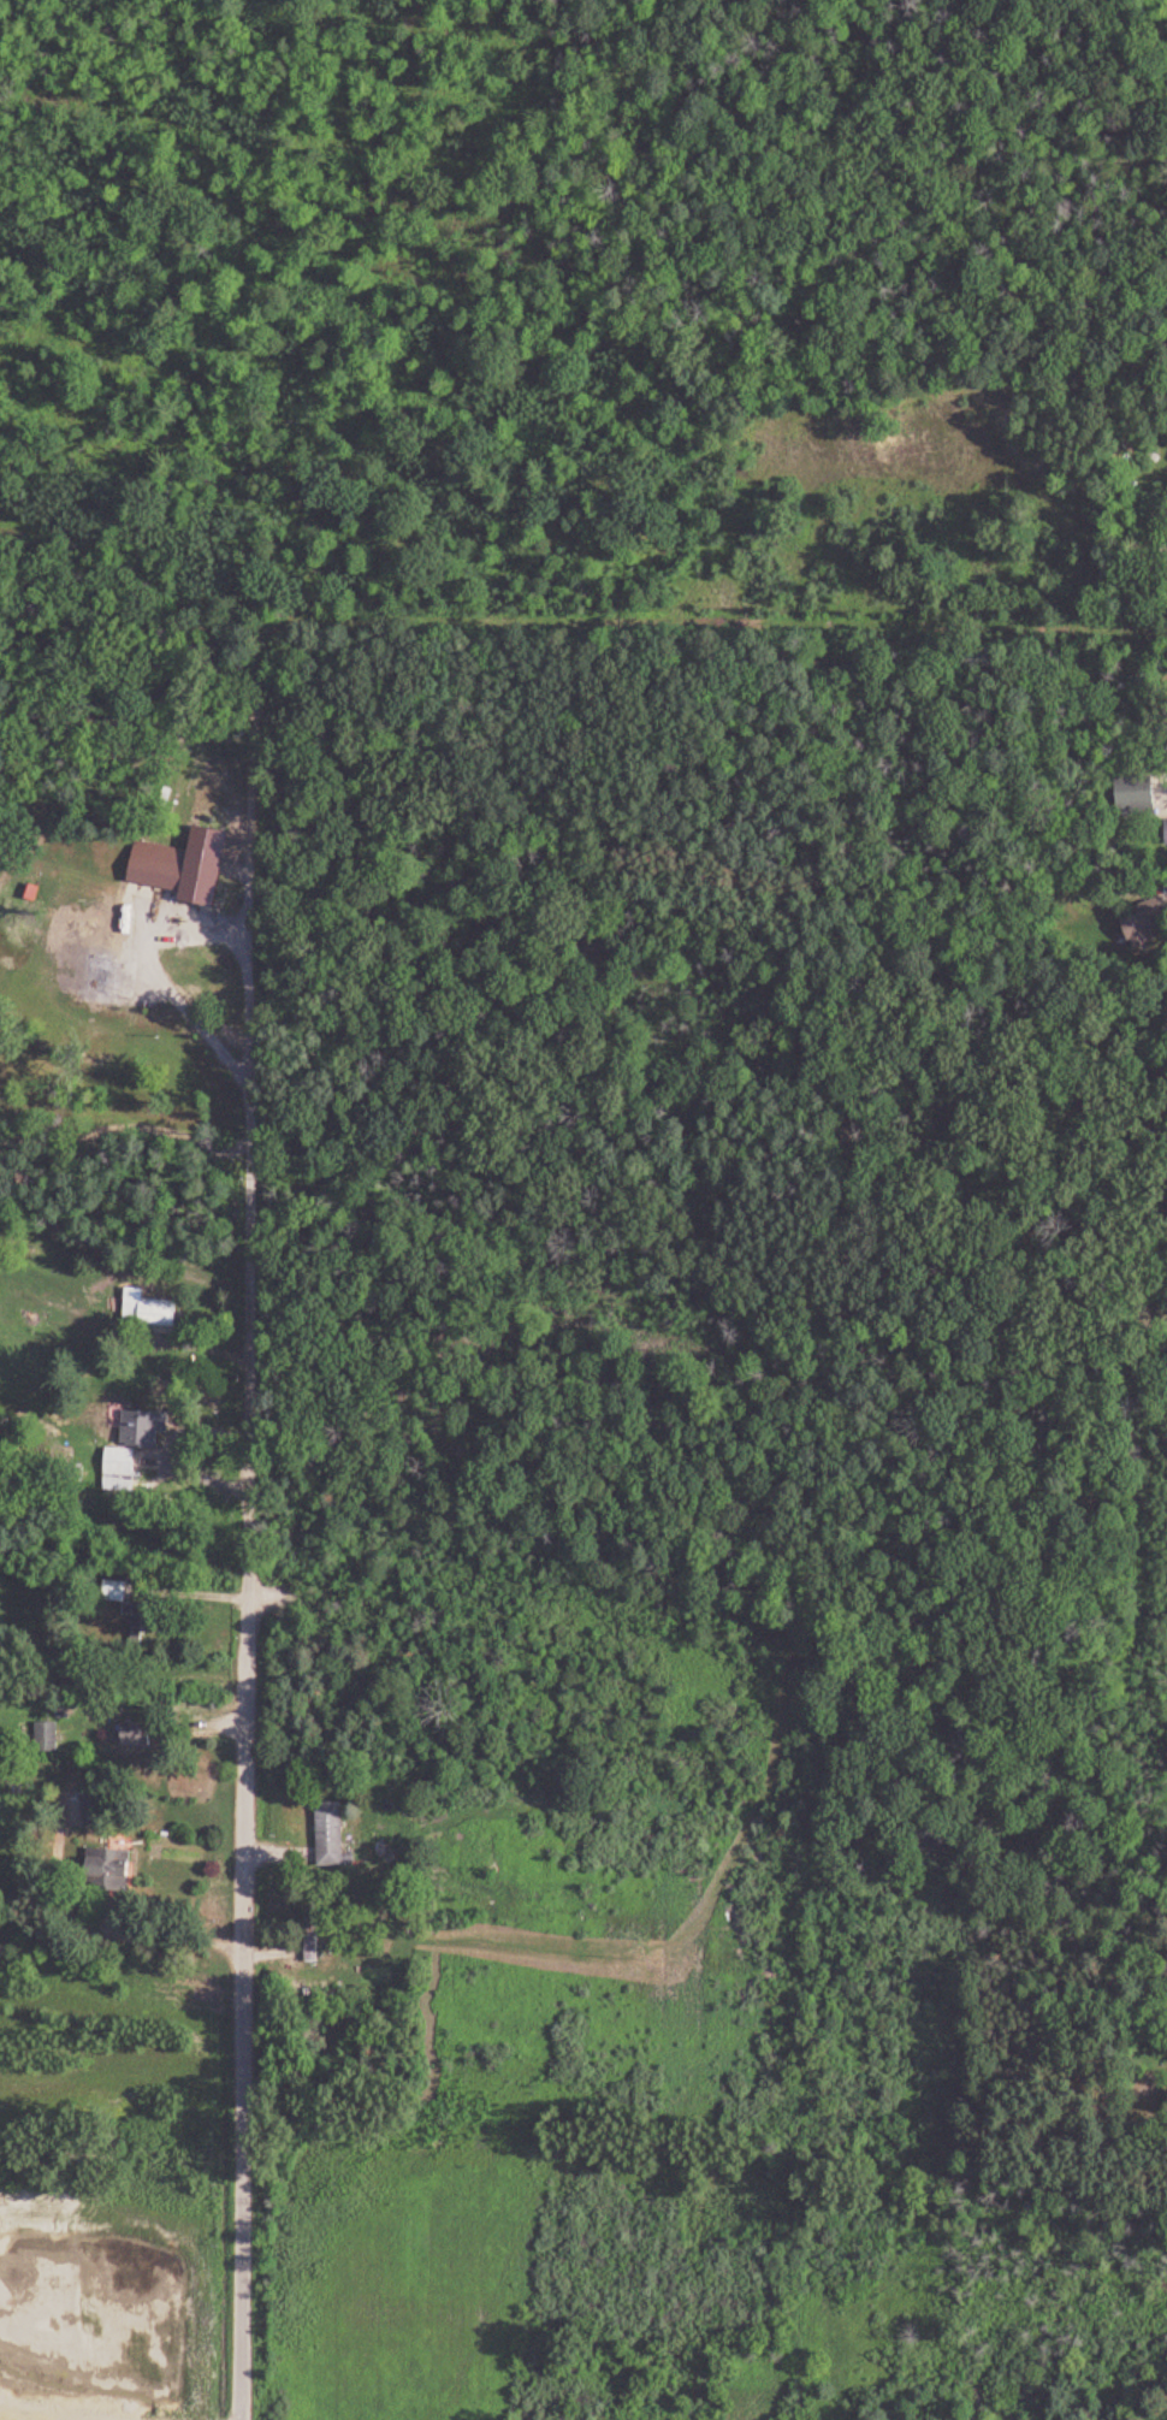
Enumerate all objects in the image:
road: (711, 629)
building: (1141, 795)
building: (165, 874)
building: (75, 878)
building: (1149, 925)
building: (93, 940)
road: (250, 1072)
building: (154, 1314)
building: (148, 1428)
building: (122, 1471)
building: (120, 1588)
building: (142, 1735)
building: (49, 1738)
building: (100, 1807)
building: (334, 1835)
building: (114, 1871)
building: (315, 1939)
road: (178, 1942)
road: (245, 1966)

